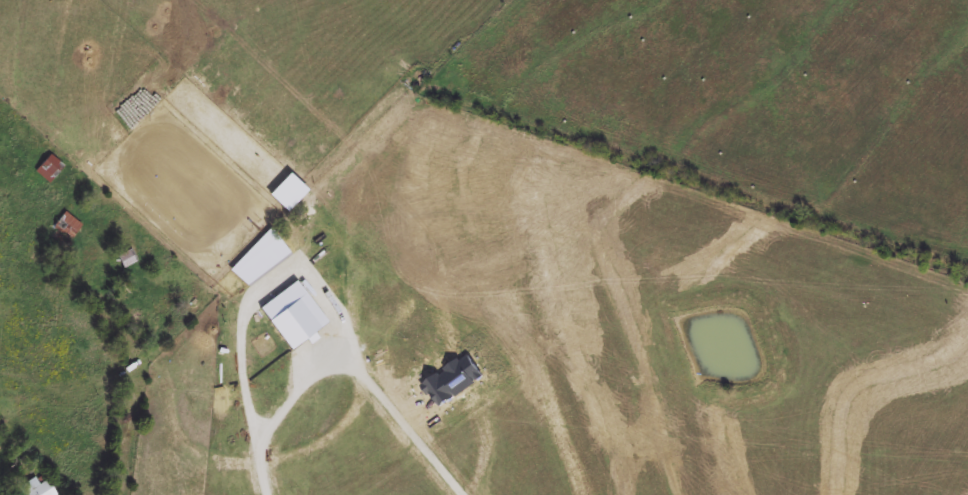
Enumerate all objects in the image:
building: (49, 167)
building: (64, 229)
building: (128, 258)
building: (36, 264)
building: (37, 488)

